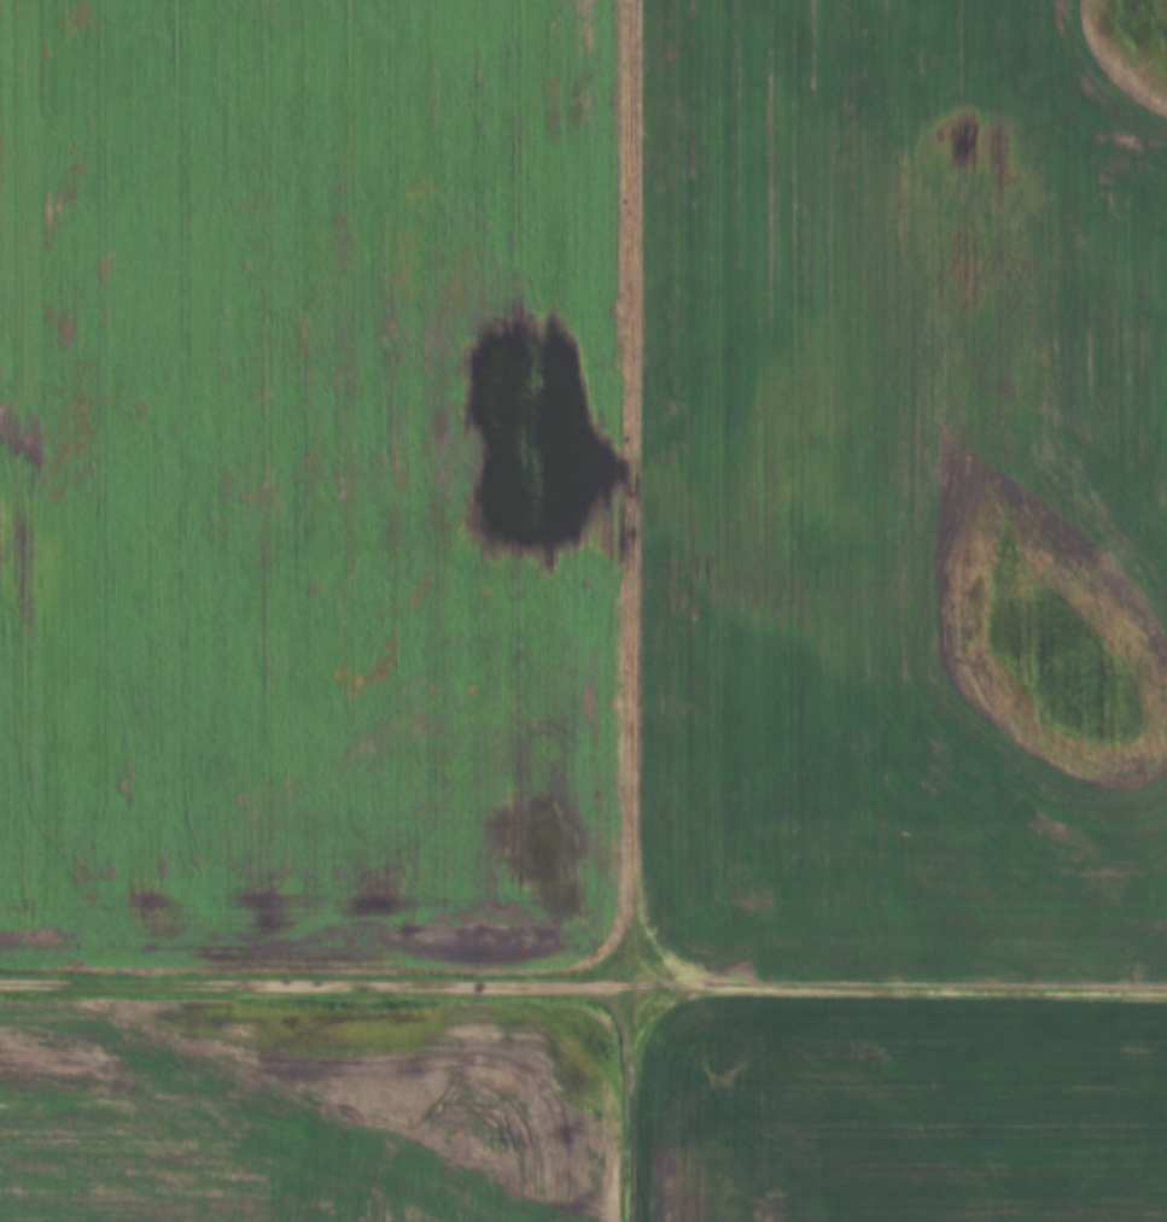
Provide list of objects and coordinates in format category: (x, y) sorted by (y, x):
road: (623, 610)
road: (583, 980)

